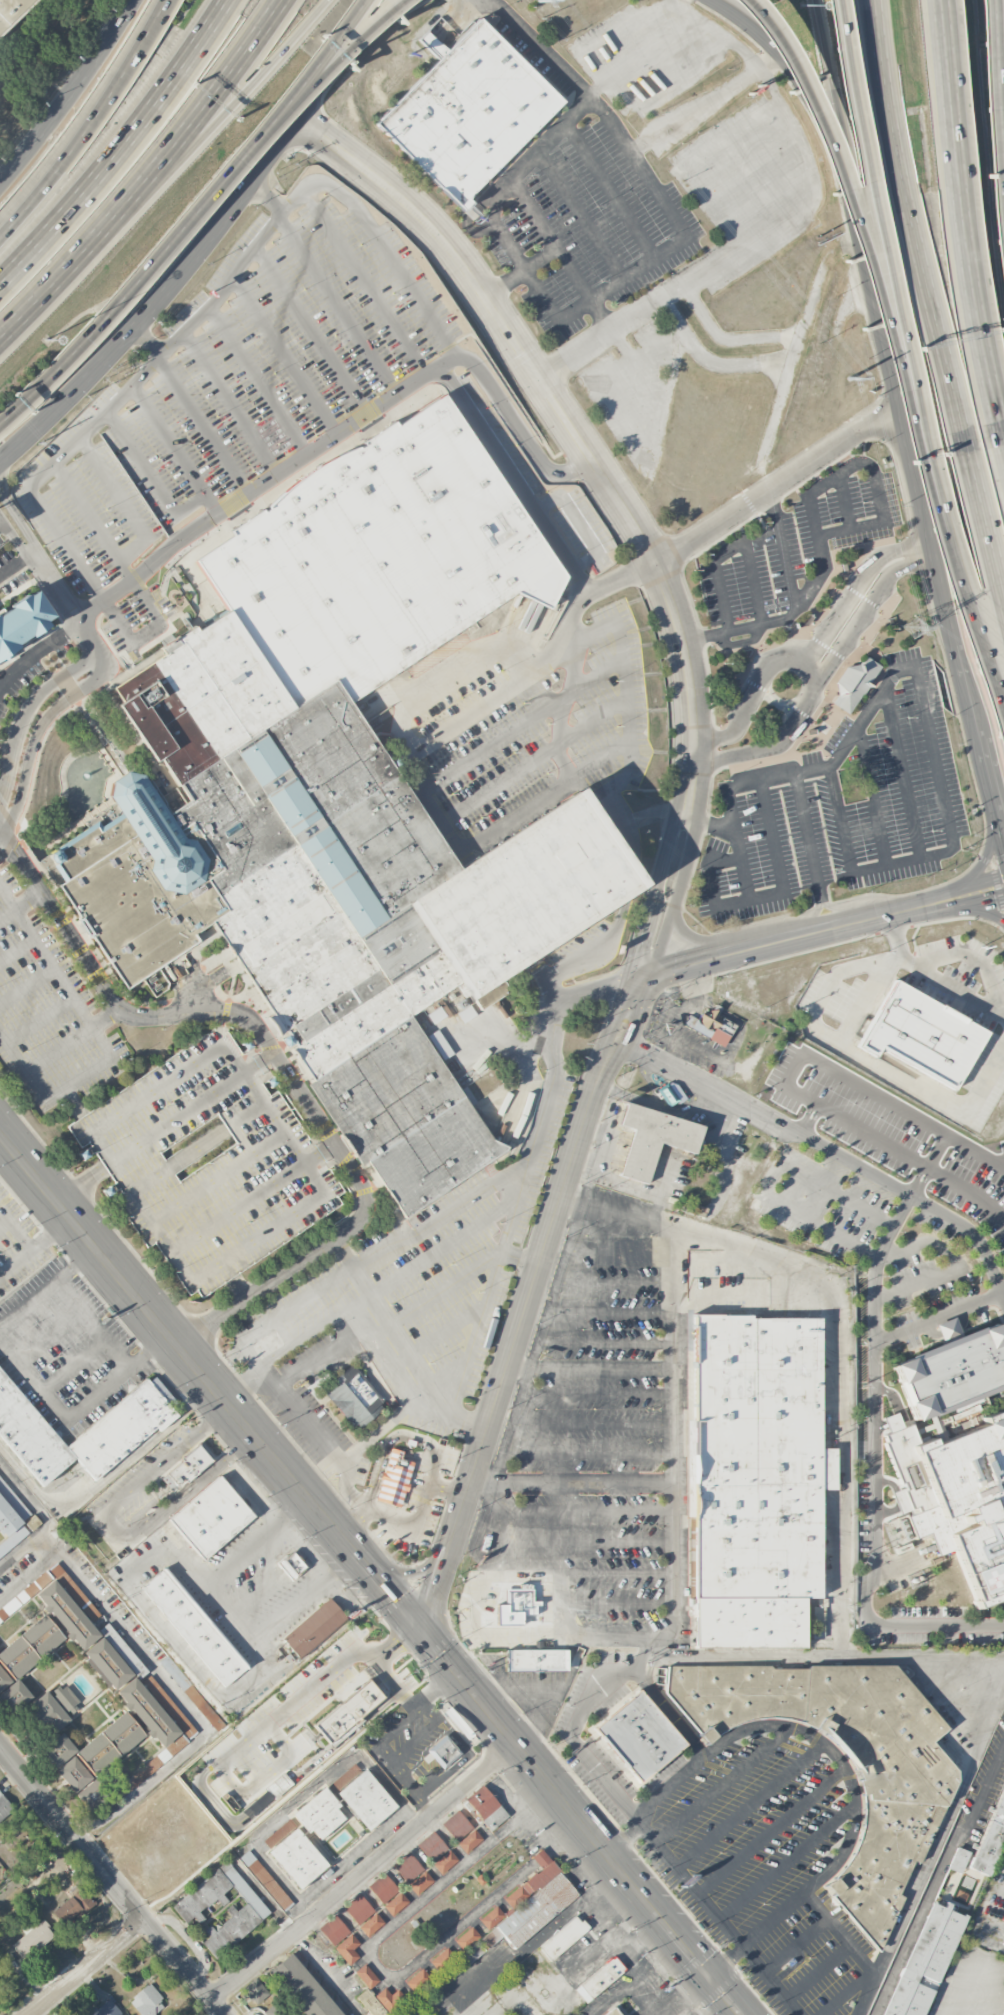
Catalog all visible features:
power tower: (538, 1)
street lamp: (804, 5)
building: (11, 11)
road: (701, 19)
road: (608, 34)
road: (331, 38)
road: (348, 38)
road: (536, 46)
road: (654, 50)
road: (346, 53)
road: (336, 59)
road: (752, 63)
road: (664, 81)
road: (599, 87)
road: (998, 90)
road: (809, 91)
road: (68, 93)
road: (205, 101)
road: (230, 102)
road: (842, 105)
road: (695, 111)
building: (469, 114)
road: (90, 124)
road: (121, 146)
road: (636, 159)
road: (684, 163)
road: (838, 172)
road: (869, 179)
road: (610, 188)
road: (265, 195)
road: (204, 199)
road: (580, 214)
road: (968, 216)
road: (914, 227)
road: (550, 239)
road: (743, 257)
road: (65, 268)
road: (521, 273)
road: (818, 274)
road: (404, 278)
road: (365, 281)
road: (156, 298)
road: (335, 302)
road: (601, 313)
street lamp: (1002, 317)
road: (310, 329)
road: (794, 335)
street lamp: (45, 340)
road: (145, 342)
road: (670, 344)
road: (284, 354)
road: (893, 360)
road: (143, 370)
road: (51, 372)
power tower: (848, 379)
road: (258, 380)
parking lot: (226, 395)
road: (549, 395)
road: (231, 401)
road: (777, 404)
road: (203, 424)
road: (516, 428)
road: (174, 448)
road: (860, 460)
road: (276, 474)
road: (150, 475)
road: (931, 475)
road: (511, 476)
road: (778, 482)
road: (123, 501)
road: (845, 501)
road: (9, 505)
road: (92, 520)
road: (986, 524)
road: (14, 540)
road: (735, 546)
road: (781, 548)
road: (935, 548)
building: (378, 557)
road: (16, 565)
road: (620, 576)
road: (865, 576)
road: (872, 600)
road: (65, 603)
road: (91, 612)
road: (570, 619)
building: (22, 622)
road: (764, 622)
power tower: (912, 629)
road: (147, 630)
road: (38, 651)
road: (984, 653)
road: (564, 656)
road: (559, 661)
road: (102, 662)
road: (574, 664)
road: (962, 665)
road: (814, 669)
road: (467, 671)
road: (522, 673)
building: (853, 684)
road: (752, 696)
road: (924, 698)
road: (560, 708)
road: (28, 712)
parking lot: (525, 718)
road: (590, 722)
road: (34, 742)
road: (772, 748)
road: (477, 752)
road: (694, 752)
road: (600, 756)
road: (903, 771)
road: (989, 776)
road: (587, 787)
road: (690, 791)
road: (483, 793)
road: (602, 793)
road: (872, 794)
road: (1001, 815)
road: (505, 824)
road: (1001, 825)
road: (2, 829)
road: (808, 836)
road: (776, 852)
road: (686, 860)
road: (987, 860)
road: (627, 878)
road: (959, 889)
building: (324, 890)
road: (652, 896)
traffic signals: (997, 899)
road: (20, 902)
road: (978, 903)
road: (727, 904)
road: (936, 908)
road: (839, 911)
road: (979, 912)
road: (810, 919)
road: (835, 928)
road: (663, 940)
road: (702, 944)
road: (16, 950)
road: (589, 954)
road: (703, 962)
traffic signals: (653, 975)
road: (640, 978)
traffic signals: (627, 981)
road: (26, 985)
road: (953, 986)
road: (592, 988)
parking lot: (48, 1012)
road: (40, 1020)
building: (713, 1027)
road: (610, 1032)
road: (631, 1033)
building: (919, 1033)
road: (72, 1040)
road: (103, 1040)
road: (843, 1043)
road: (283, 1066)
road: (190, 1106)
building: (652, 1137)
road: (870, 1137)
road: (822, 1149)
road: (178, 1160)
building: (207, 1162)
parking garage: (207, 1162)
road: (110, 1163)
road: (216, 1177)
road: (81, 1187)
road: (251, 1197)
road: (514, 1208)
road: (443, 1212)
road: (15, 1233)
road: (35, 1249)
road: (518, 1260)
road: (946, 1261)
road: (232, 1281)
parking lot: (425, 1281)
road: (47, 1288)
road: (1003, 1295)
road: (670, 1297)
road: (381, 1312)
road: (519, 1313)
road: (939, 1319)
road: (94, 1322)
road: (474, 1336)
road: (177, 1346)
road: (328, 1351)
building: (952, 1371)
road: (241, 1385)
road: (836, 1387)
building: (353, 1395)
road: (75, 1410)
road: (395, 1414)
road: (303, 1421)
building: (124, 1424)
road: (467, 1424)
road: (385, 1447)
building: (185, 1468)
road: (876, 1473)
road: (107, 1477)
building: (394, 1479)
building: (755, 1480)
road: (672, 1482)
road: (447, 1491)
road: (342, 1499)
building: (965, 1502)
parking lot: (418, 1506)
road: (420, 1514)
building: (210, 1517)
road: (46, 1519)
building: (11, 1523)
building: (30, 1523)
road: (111, 1523)
road: (354, 1524)
building: (291, 1564)
road: (407, 1573)
helipad: (984, 1581)
road: (435, 1588)
road: (388, 1595)
building: (518, 1601)
building: (57, 1605)
road: (227, 1612)
building: (194, 1625)
building: (314, 1628)
traffic signals: (421, 1631)
road: (617, 1637)
road: (171, 1639)
building: (536, 1659)
building: (23, 1660)
road: (338, 1676)
road: (165, 1677)
building: (298, 1682)
road: (436, 1692)
building: (191, 1694)
building: (134, 1697)
road: (993, 1699)
building: (53, 1707)
building: (348, 1712)
road: (342, 1714)
building: (180, 1719)
building: (351, 1734)
building: (637, 1736)
building: (445, 1753)
building: (92, 1758)
road: (839, 1758)
road: (387, 1759)
road: (674, 1784)
building: (362, 1795)
road: (302, 1797)
building: (902, 1801)
building: (4, 1807)
building: (486, 1808)
building: (318, 1814)
road: (579, 1823)
building: (456, 1826)
building: (469, 1841)
building: (991, 1842)
building: (432, 1846)
building: (293, 1853)
road: (351, 1855)
road: (680, 1858)
building: (958, 1860)
building: (444, 1862)
road: (364, 1873)
building: (265, 1880)
road: (111, 1883)
building: (382, 1888)
building: (395, 1904)
building: (529, 1904)
building: (71, 1907)
building: (188, 1908)
building: (363, 1915)
road: (777, 1916)
building: (333, 1930)
road: (383, 1932)
building: (563, 1937)
building: (466, 1938)
building: (31, 1942)
building: (347, 1949)
road: (759, 1957)
building: (442, 1959)
building: (924, 1961)
road: (86, 1967)
road: (323, 1969)
building: (366, 1976)
traffic signals: (705, 1976)
building: (599, 1979)
building: (417, 1980)
road: (633, 1981)
building: (304, 1986)
road: (962, 1986)
building: (255, 1991)
building: (389, 2000)
building: (146, 2002)
building: (370, 2004)
road: (709, 2004)
building: (276, 2010)
building: (1002, 2011)
building: (612, 2012)
park: (47, 2014)

